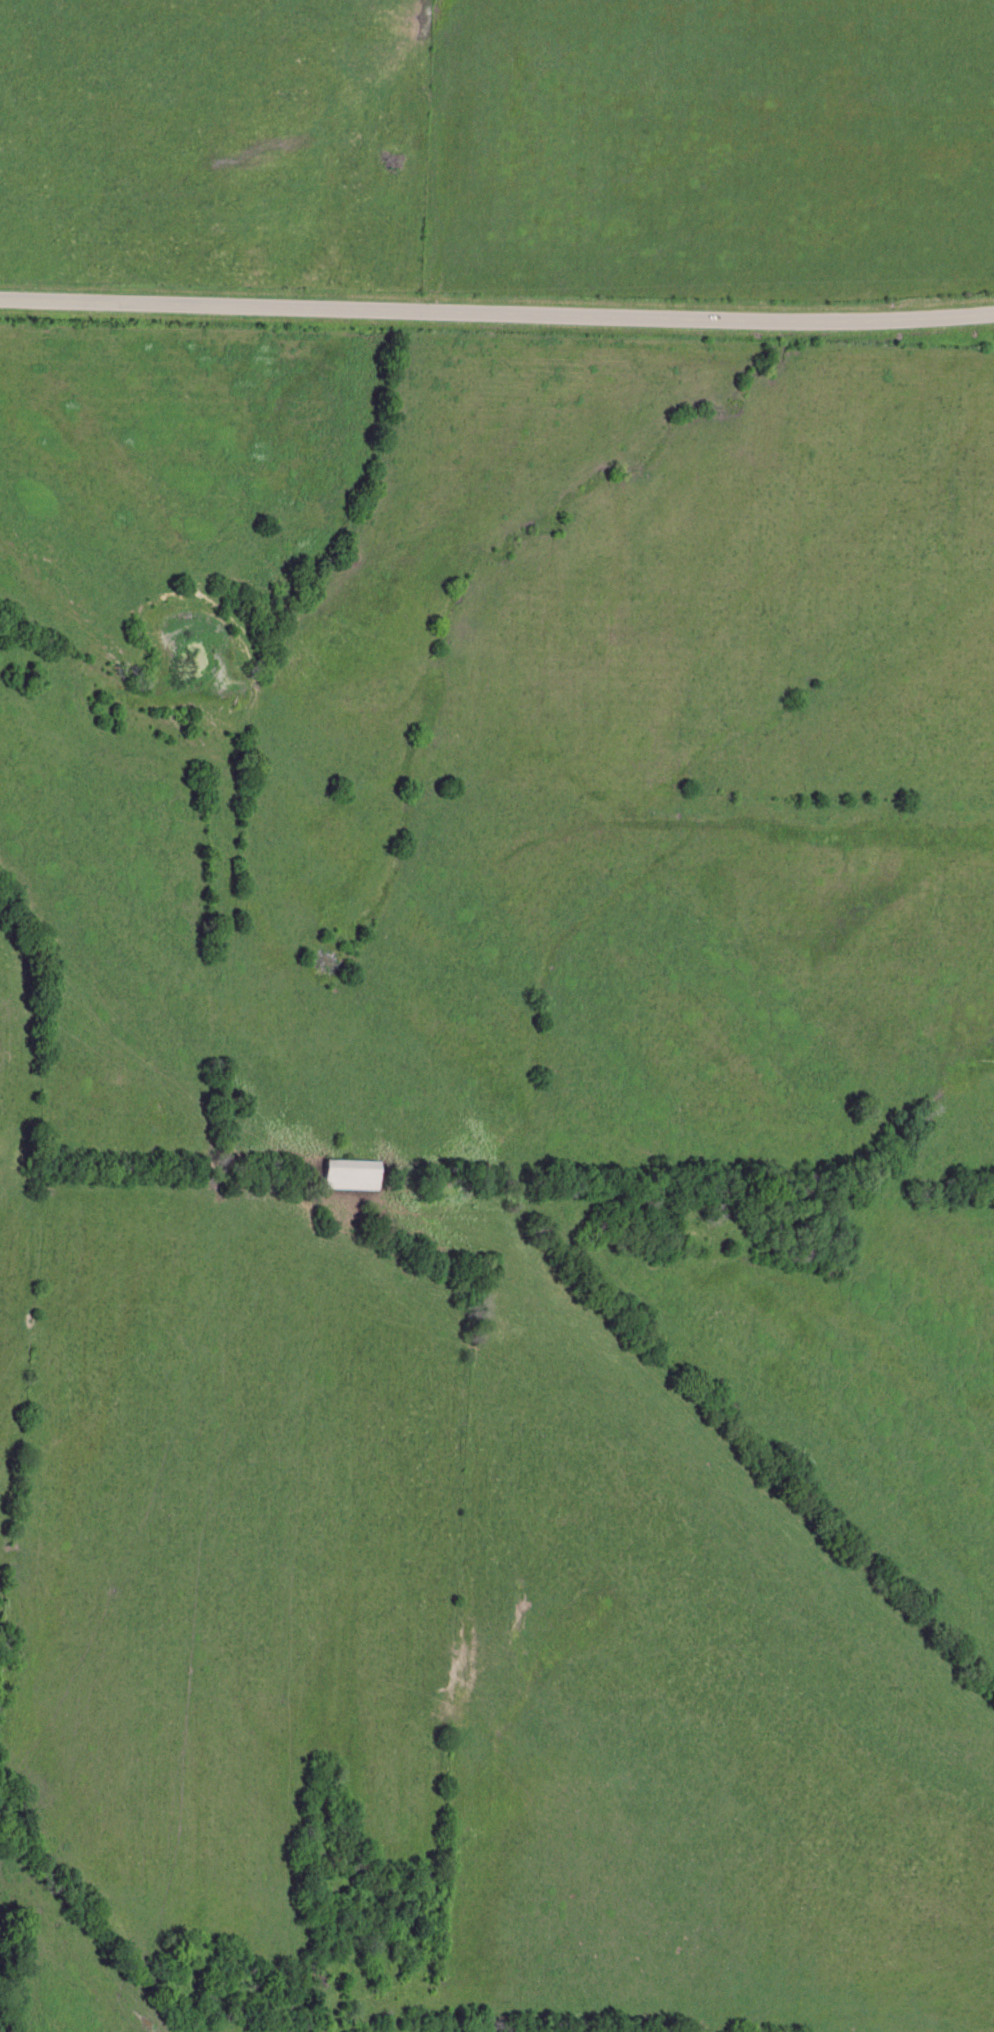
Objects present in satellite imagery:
road: (497, 313)
building: (348, 1175)

